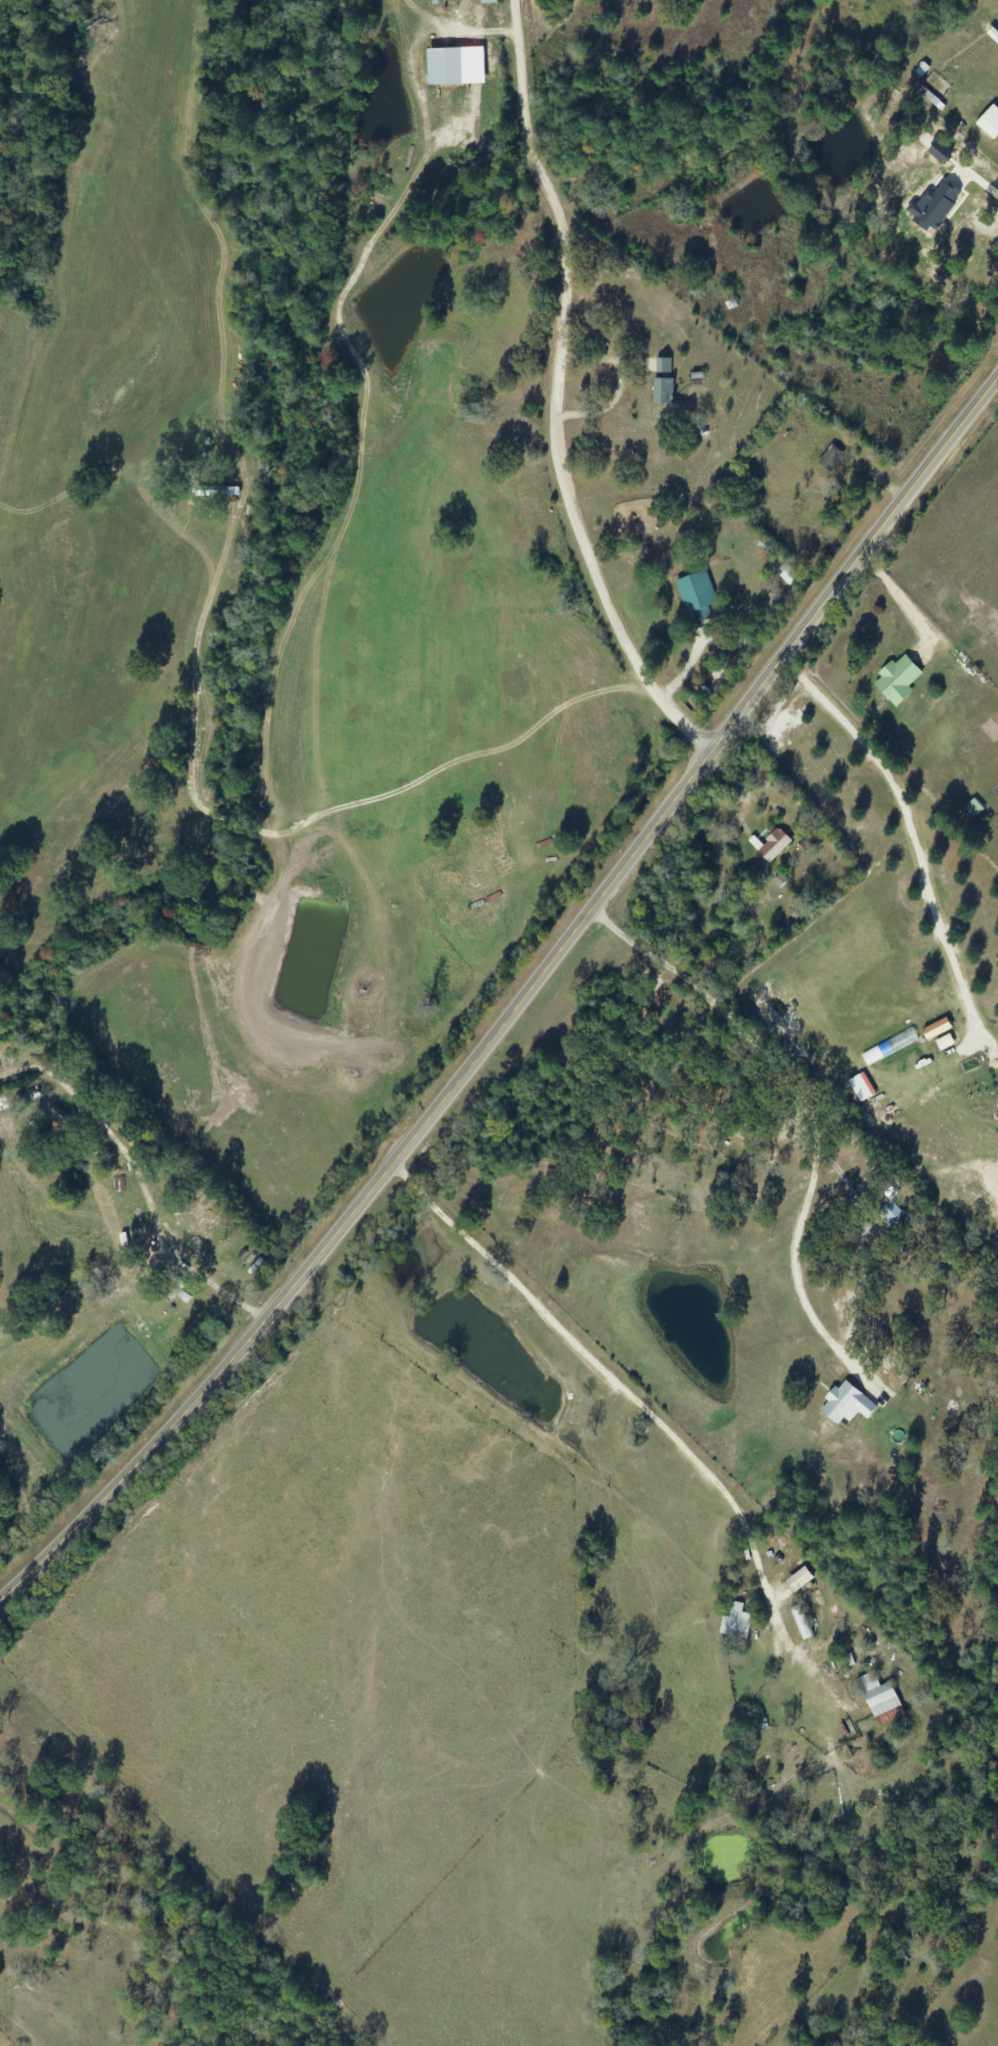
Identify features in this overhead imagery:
building: (488, 2)
building: (989, 123)
building: (939, 153)
building: (935, 207)
road: (552, 403)
building: (830, 459)
building: (787, 576)
building: (697, 598)
building: (897, 681)
building: (771, 846)
road: (518, 1008)
building: (937, 1030)
building: (945, 1044)
building: (890, 1047)
building: (993, 1061)
road: (769, 1173)
building: (846, 1405)
road: (641, 1417)
building: (799, 1580)
building: (736, 1624)
building: (880, 1698)

